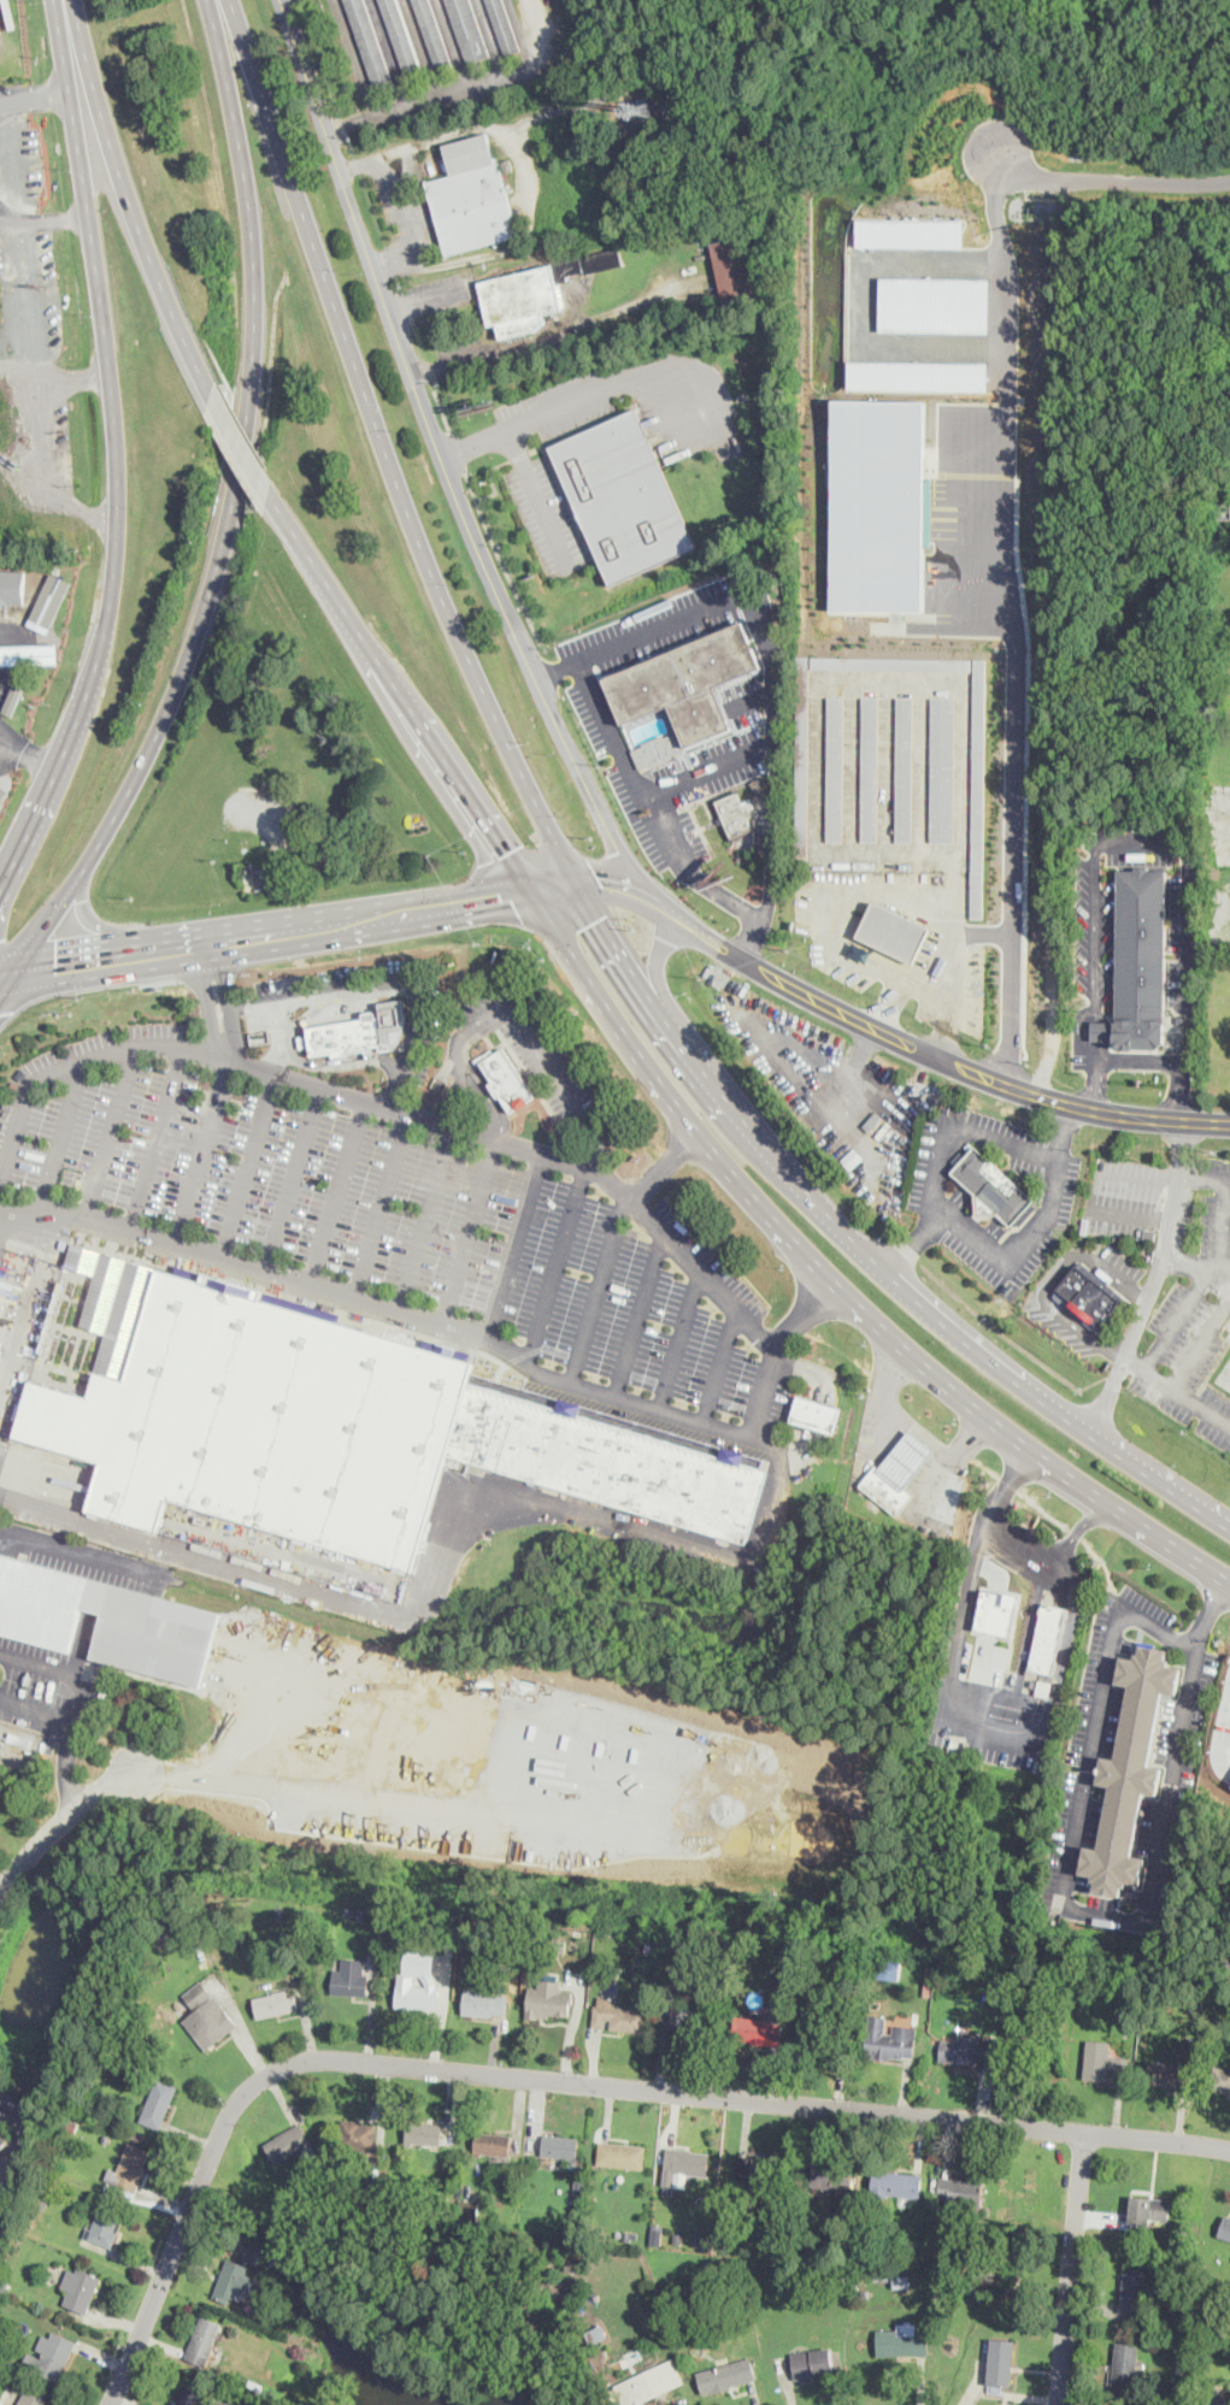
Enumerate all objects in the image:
building: (504, 25)
building: (467, 30)
building: (432, 34)
building: (401, 37)
building: (369, 43)
road: (318, 57)
road: (464, 87)
road: (34, 94)
building: (641, 102)
building: (629, 113)
road: (340, 125)
road: (346, 140)
building: (507, 164)
road: (528, 172)
road: (1110, 179)
building: (473, 199)
road: (130, 201)
road: (398, 210)
road: (43, 219)
building: (912, 231)
building: (602, 260)
building: (740, 269)
building: (526, 297)
building: (936, 303)
road: (555, 332)
building: (919, 373)
road: (72, 378)
road: (37, 391)
parking lot: (565, 402)
road: (441, 411)
road: (558, 411)
road: (242, 443)
road: (475, 444)
road: (457, 448)
road: (388, 452)
road: (114, 454)
road: (440, 455)
building: (622, 495)
road: (536, 501)
building: (878, 503)
road: (230, 512)
parking lot: (547, 518)
road: (499, 554)
building: (12, 586)
building: (47, 620)
road: (1011, 623)
parking lot: (649, 630)
building: (27, 656)
building: (891, 665)
road: (557, 667)
road: (896, 683)
building: (688, 684)
road: (401, 691)
road: (753, 698)
parking lot: (745, 700)
road: (775, 718)
building: (658, 751)
road: (28, 753)
building: (802, 759)
parking lot: (622, 768)
parking lot: (706, 768)
building: (835, 770)
building: (870, 770)
building: (905, 770)
building: (943, 771)
building: (758, 784)
building: (978, 788)
building: (735, 815)
road: (773, 826)
road: (671, 829)
parking lot: (687, 837)
traffic signals: (507, 853)
building: (249, 867)
road: (1094, 873)
road: (596, 879)
traffic signals: (605, 888)
road: (608, 888)
road: (558, 889)
traffic signals: (508, 894)
road: (740, 904)
road: (569, 918)
traffic signals: (599, 918)
road: (271, 932)
building: (894, 933)
parking lot: (1097, 933)
road: (847, 944)
building: (860, 950)
road: (1185, 953)
road: (941, 959)
building: (1140, 963)
traffic signals: (57, 968)
parking lot: (340, 973)
road: (5, 975)
road: (192, 977)
road: (5, 980)
road: (160, 982)
road: (660, 985)
road: (324, 995)
road: (229, 997)
road: (208, 1000)
road: (292, 1004)
road: (16, 1006)
building: (1181, 1018)
building: (306, 1020)
parking lot: (428, 1026)
building: (358, 1028)
road: (1083, 1028)
road: (277, 1033)
building: (301, 1041)
road: (410, 1043)
road: (917, 1050)
road: (77, 1054)
road: (459, 1059)
road: (310, 1061)
road: (1114, 1061)
road: (475, 1068)
building: (506, 1078)
road: (566, 1092)
road: (1179, 1092)
building: (873, 1122)
road: (64, 1130)
road: (965, 1130)
road: (113, 1131)
road: (160, 1137)
road: (201, 1149)
building: (852, 1156)
road: (249, 1162)
road: (663, 1163)
road: (293, 1175)
road: (339, 1190)
building: (994, 1190)
parking lot: (1129, 1190)
road: (384, 1203)
parking lot: (367, 1210)
road: (426, 1216)
road: (1223, 1216)
road: (4, 1220)
road: (470, 1230)
building: (1149, 1233)
road: (513, 1242)
road: (864, 1250)
road: (1011, 1255)
parking lot: (712, 1257)
road: (1190, 1260)
road: (1225, 1260)
road: (554, 1266)
road: (1052, 1277)
road: (1153, 1283)
road: (832, 1285)
road: (596, 1289)
building: (1088, 1295)
building: (116, 1304)
road: (799, 1313)
road: (635, 1314)
road: (1182, 1314)
parking lot: (1193, 1322)
road: (677, 1339)
road: (1201, 1346)
road: (717, 1366)
road: (1176, 1389)
building: (816, 1415)
road: (722, 1428)
road: (914, 1428)
building: (348, 1430)
building: (899, 1473)
gas station: (899, 1473)
building: (885, 1515)
road: (1078, 1527)
road: (995, 1528)
road: (83, 1549)
building: (996, 1610)
road: (1207, 1614)
building: (107, 1620)
building: (1048, 1638)
building: (1044, 1687)
road: (87, 1691)
building: (20, 1739)
building: (2, 1752)
road: (66, 1764)
building: (1130, 1770)
road: (61, 1822)
building: (347, 1911)
building: (363, 1914)
building: (279, 1916)
building: (176, 1918)
road: (1131, 1918)
building: (413, 1924)
building: (519, 1934)
building: (604, 1934)
building: (673, 1937)
building: (558, 1945)
building: (866, 1945)
building: (652, 1950)
building: (699, 1953)
building: (681, 1959)
building: (872, 1961)
building: (349, 1979)
building: (406, 1979)
building: (200, 1994)
building: (548, 1999)
building: (484, 2003)
building: (870, 2003)
building: (276, 2005)
building: (619, 2016)
building: (687, 2022)
building: (211, 2023)
building: (758, 2030)
building: (824, 2036)
building: (891, 2044)
building: (111, 2046)
building: (967, 2051)
building: (1102, 2063)
building: (1171, 2076)
building: (1220, 2079)
road: (561, 2080)
building: (158, 2102)
road: (20, 2130)
building: (424, 2132)
building: (357, 2134)
building: (2, 2141)
building: (288, 2142)
building: (492, 2142)
building: (558, 2145)
building: (620, 2155)
building: (682, 2165)
building: (129, 2167)
building: (757, 2173)
building: (896, 2182)
building: (836, 2183)
building: (959, 2191)
building: (1148, 2210)
building: (470, 2211)
building: (1224, 2227)
building: (105, 2228)
building: (252, 2250)
road: (1071, 2268)
building: (234, 2280)
building: (82, 2288)
building: (1132, 2288)
building: (902, 2339)
building: (202, 2340)
building: (49, 2356)
building: (812, 2360)
building: (1000, 2360)
building: (1124, 2365)
building: (726, 2375)
building: (647, 2383)
building: (188, 2395)
building: (31, 2399)
building: (1218, 2399)

